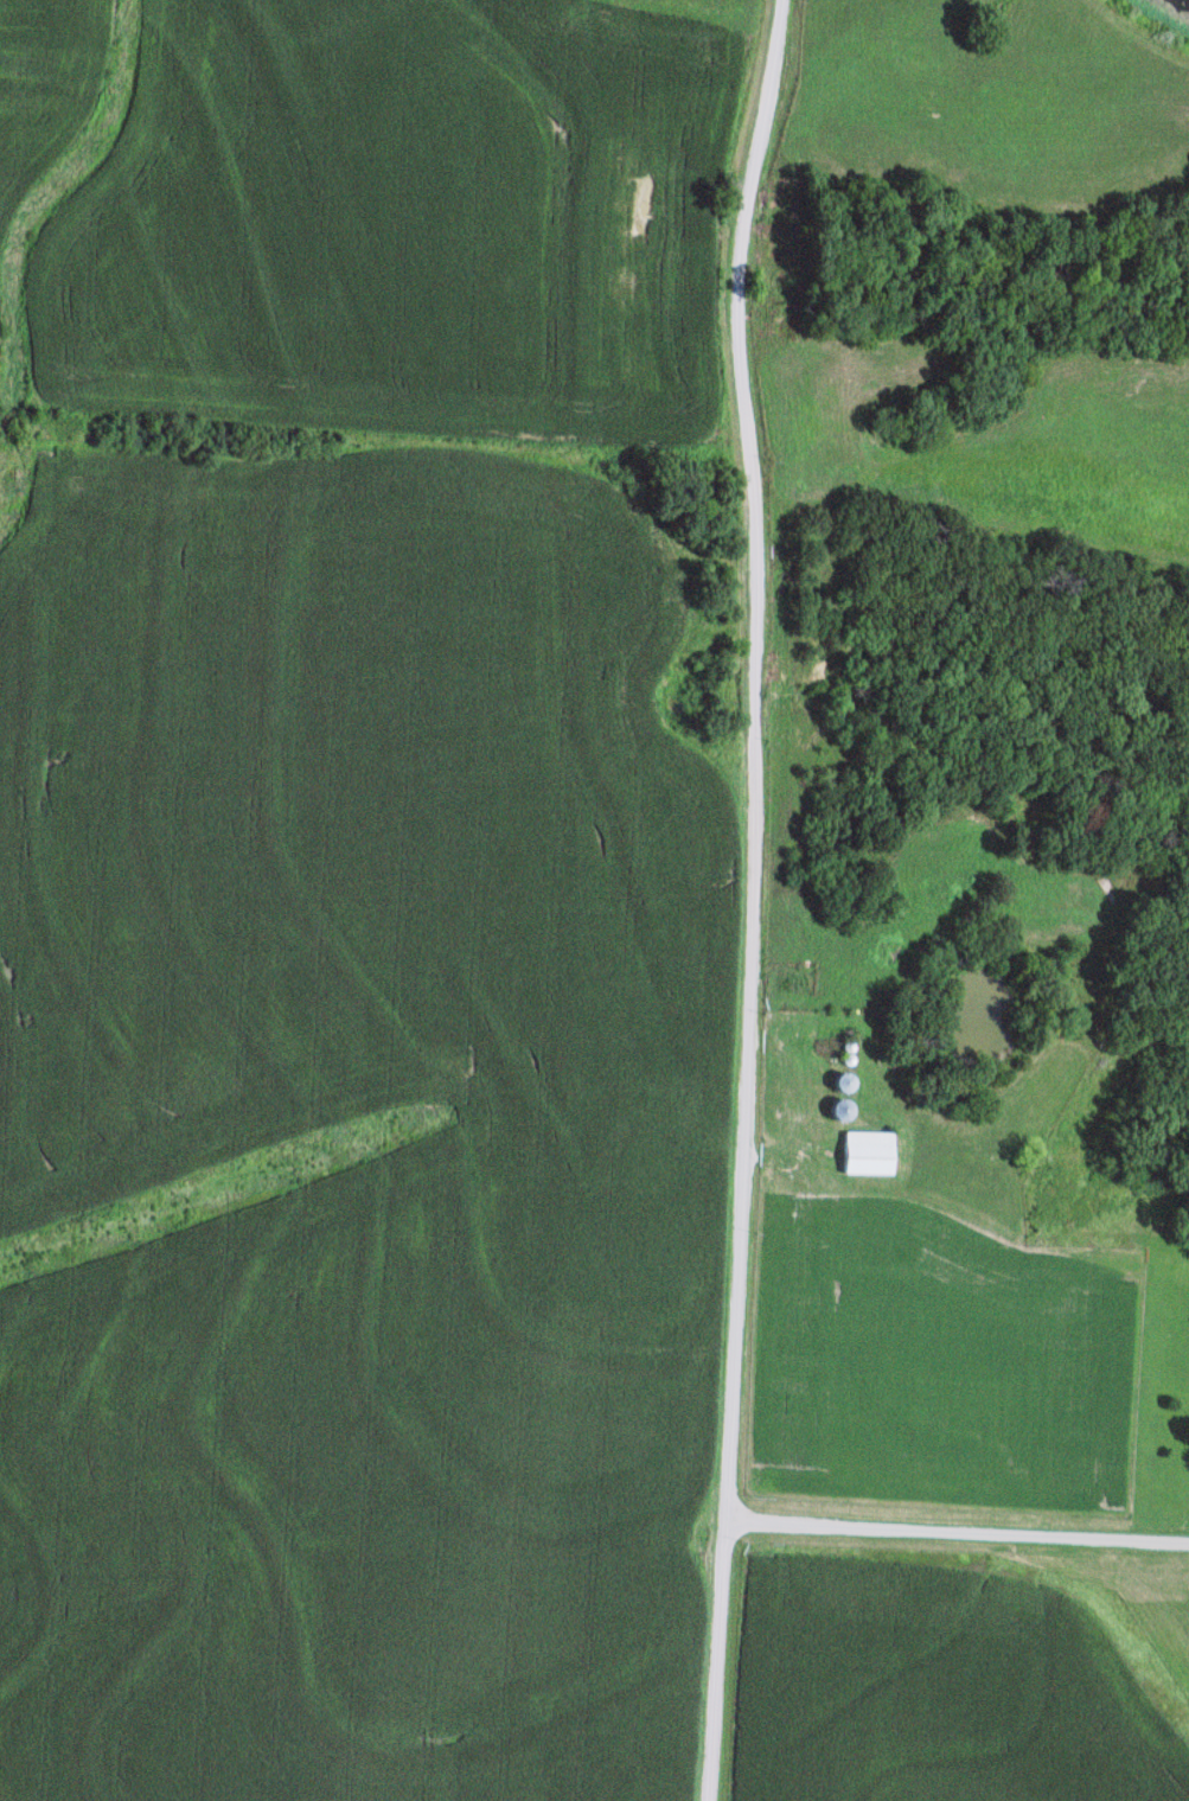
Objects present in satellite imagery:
road: (757, 898)
building: (839, 1084)
building: (836, 1112)
building: (864, 1155)
road: (959, 1531)

